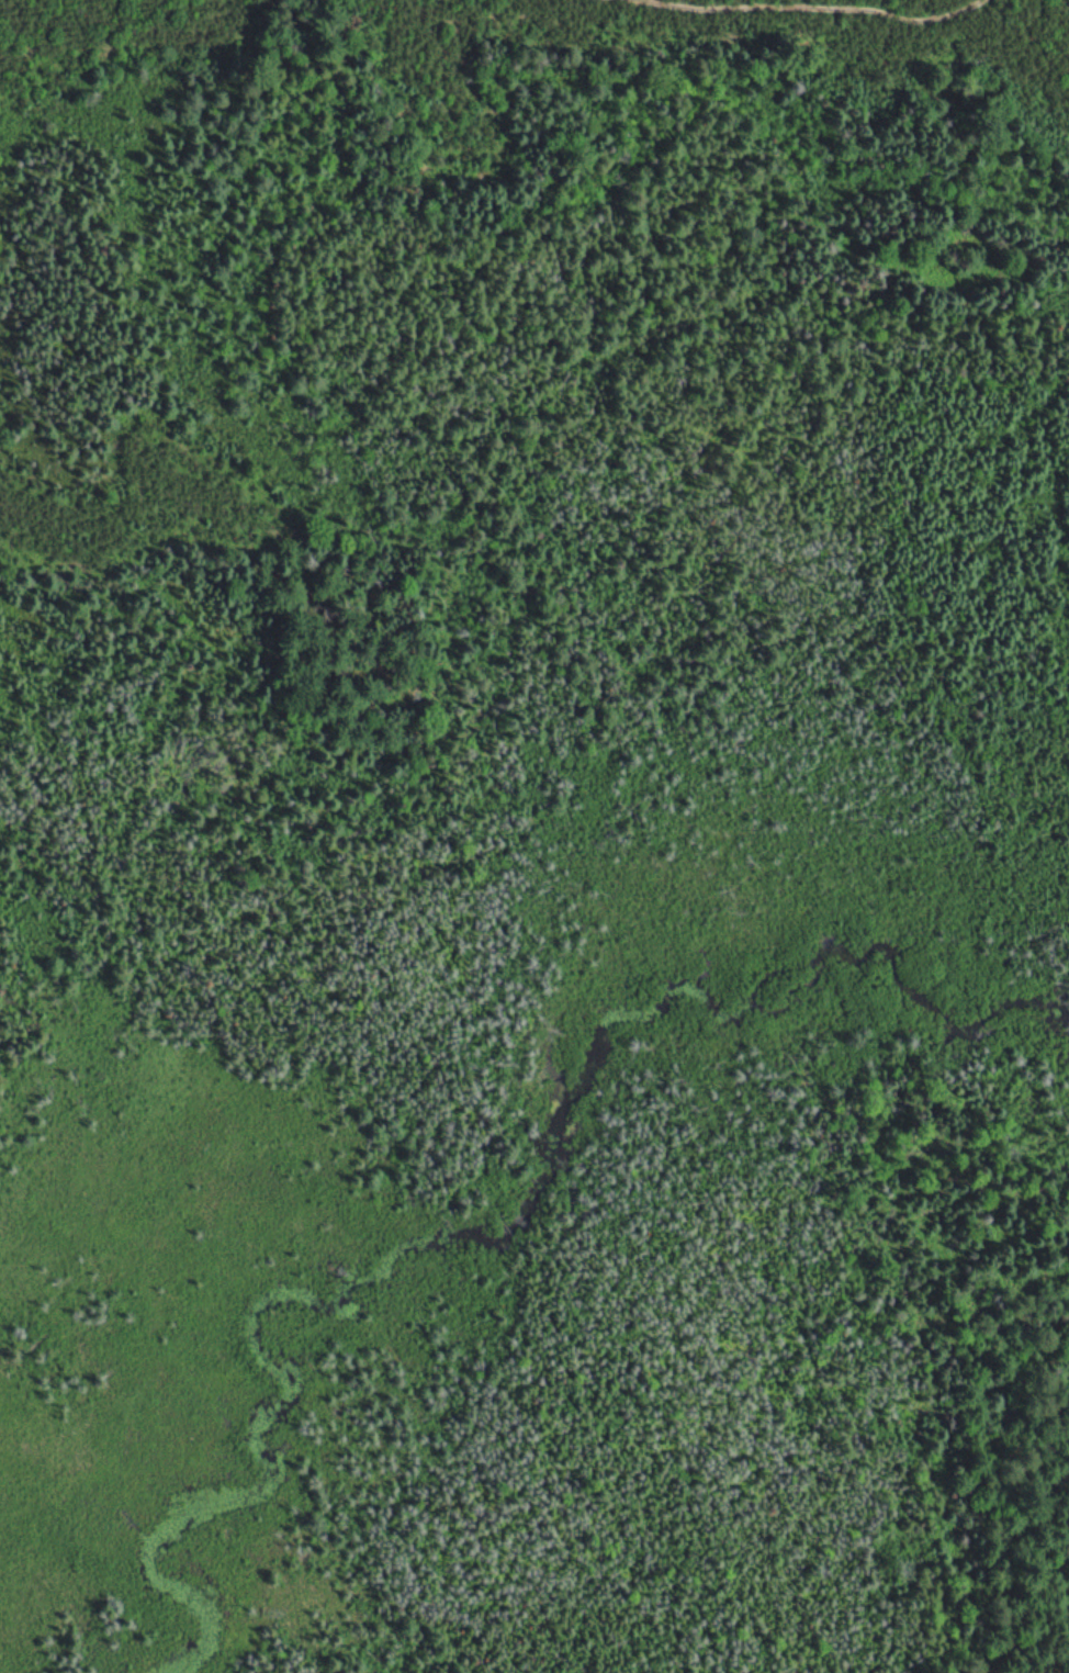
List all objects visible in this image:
road: (785, 0)

